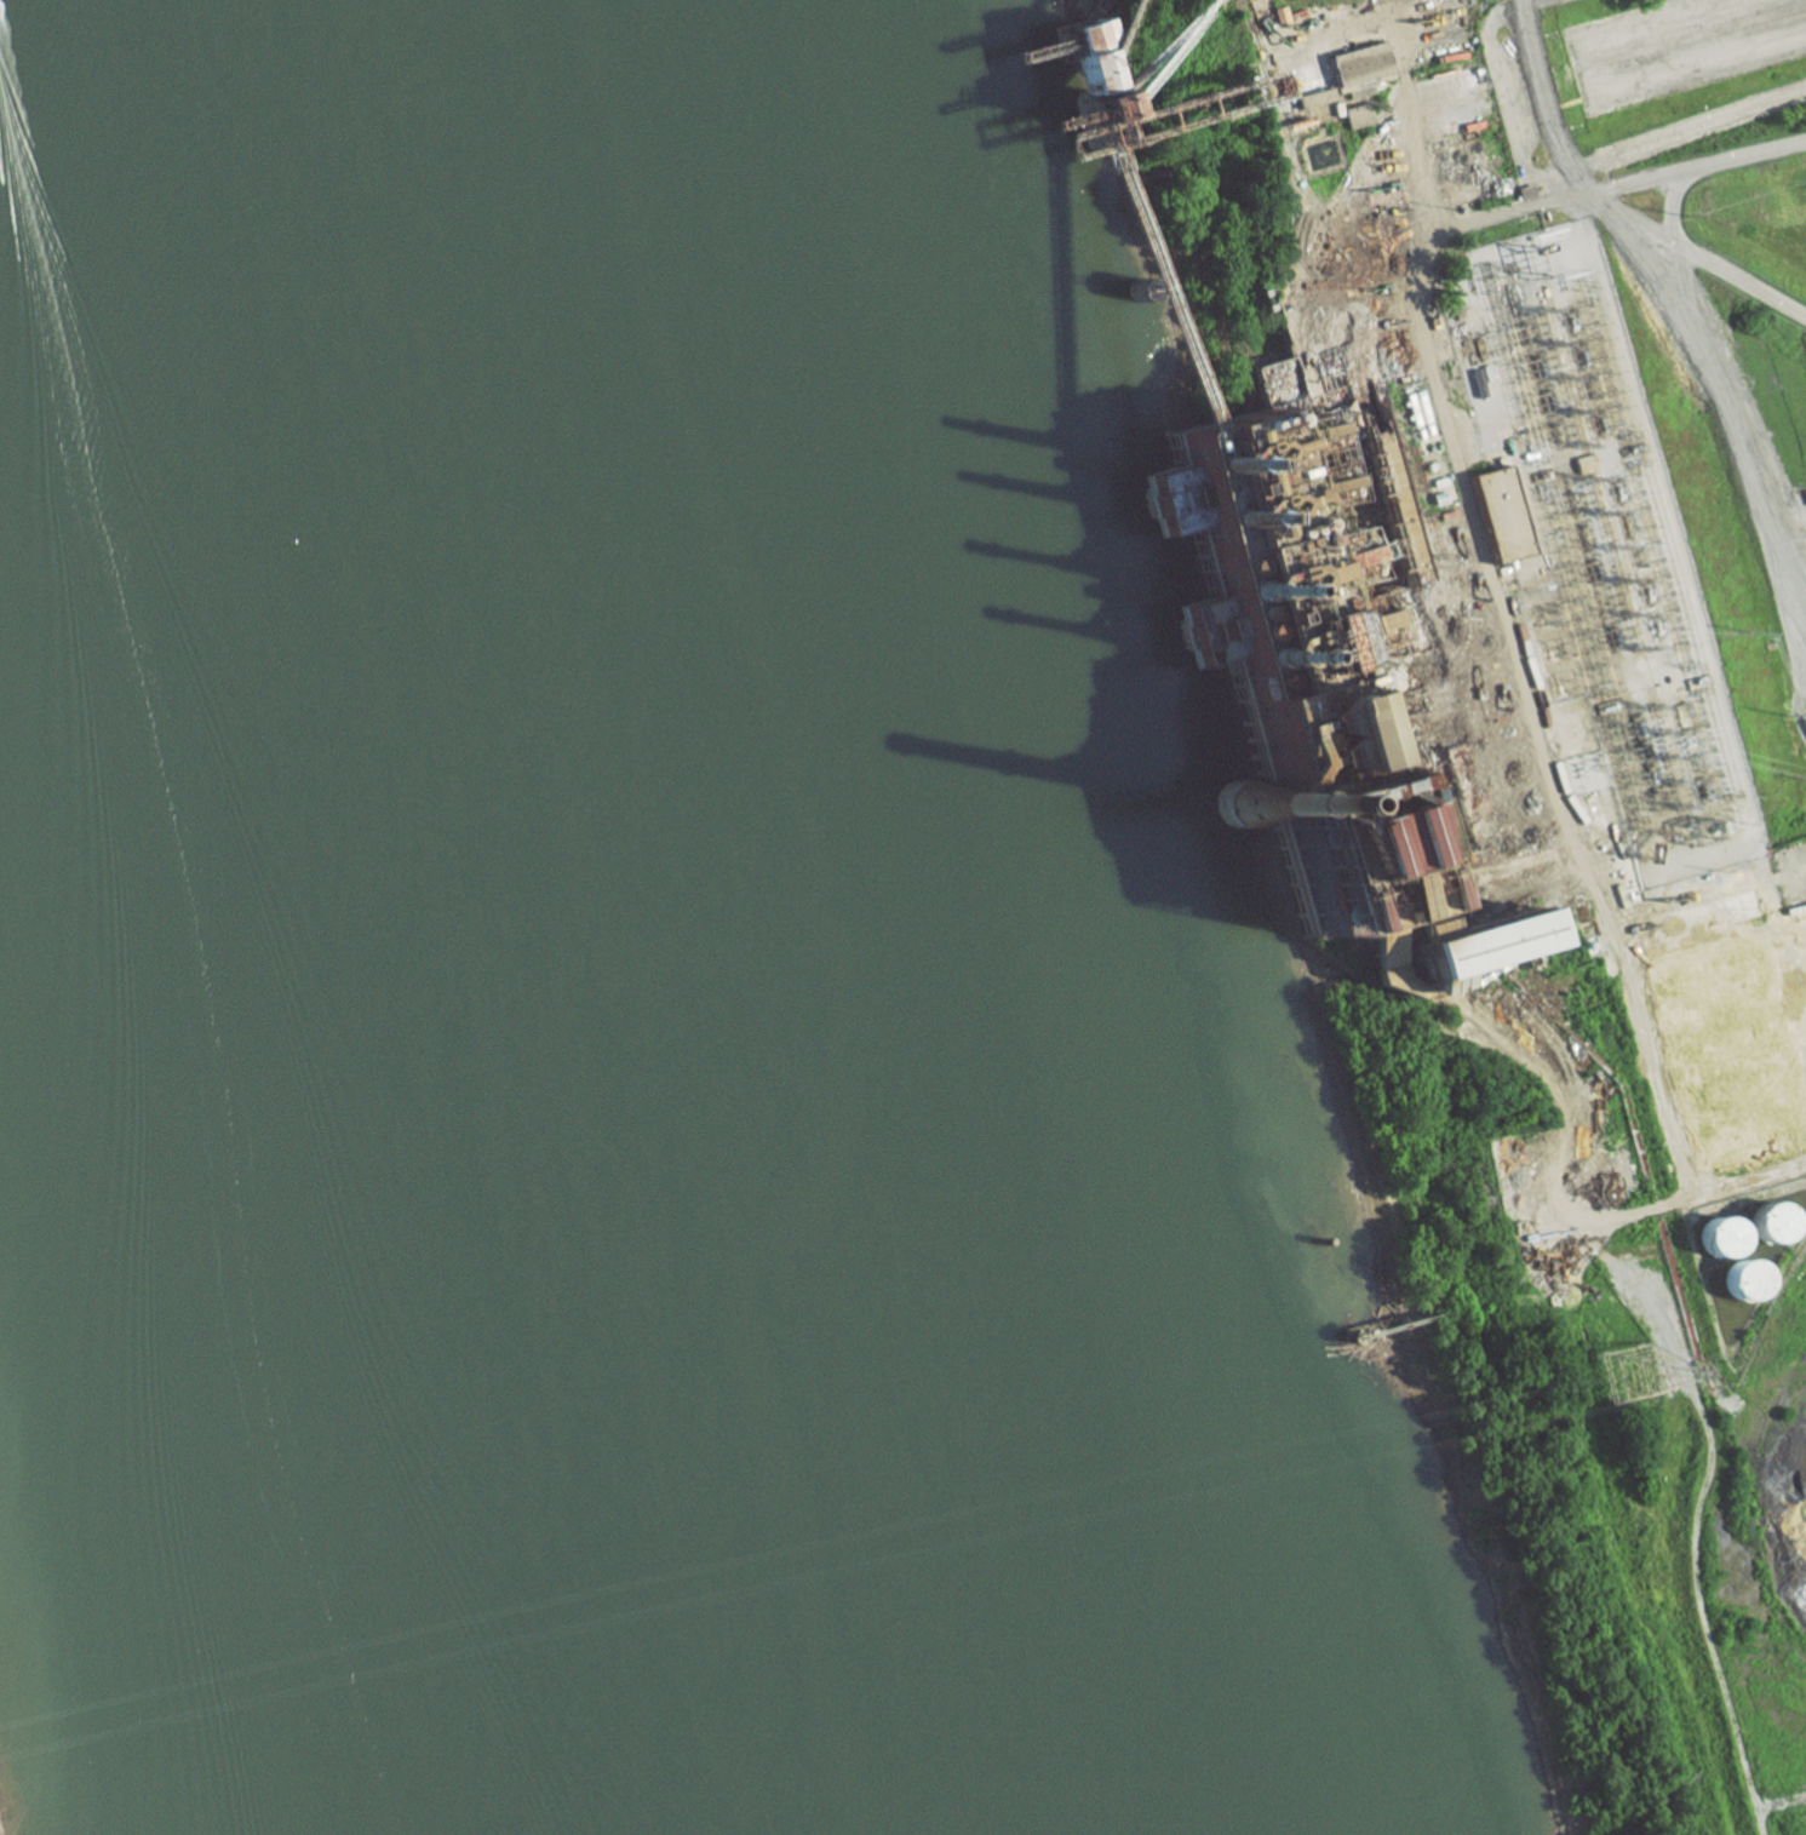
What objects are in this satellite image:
road: (1524, 2)
road: (1667, 8)
parking lot: (1675, 46)
building: (1084, 58)
road: (1496, 79)
road: (1543, 99)
parking lot: (1698, 122)
road: (1693, 165)
road: (1667, 206)
road: (1693, 257)
road: (1730, 441)
building: (1502, 514)
power substation: (1599, 549)
road: (1507, 637)
power tower: (1787, 716)
building: (1581, 744)
building: (1246, 818)
river: (626, 911)
building: (1521, 947)
road: (1747, 1182)
building: (1767, 1221)
building: (1788, 1226)
building: (1715, 1235)
building: (1764, 1281)
building: (1731, 1285)
power tower: (1636, 1380)

